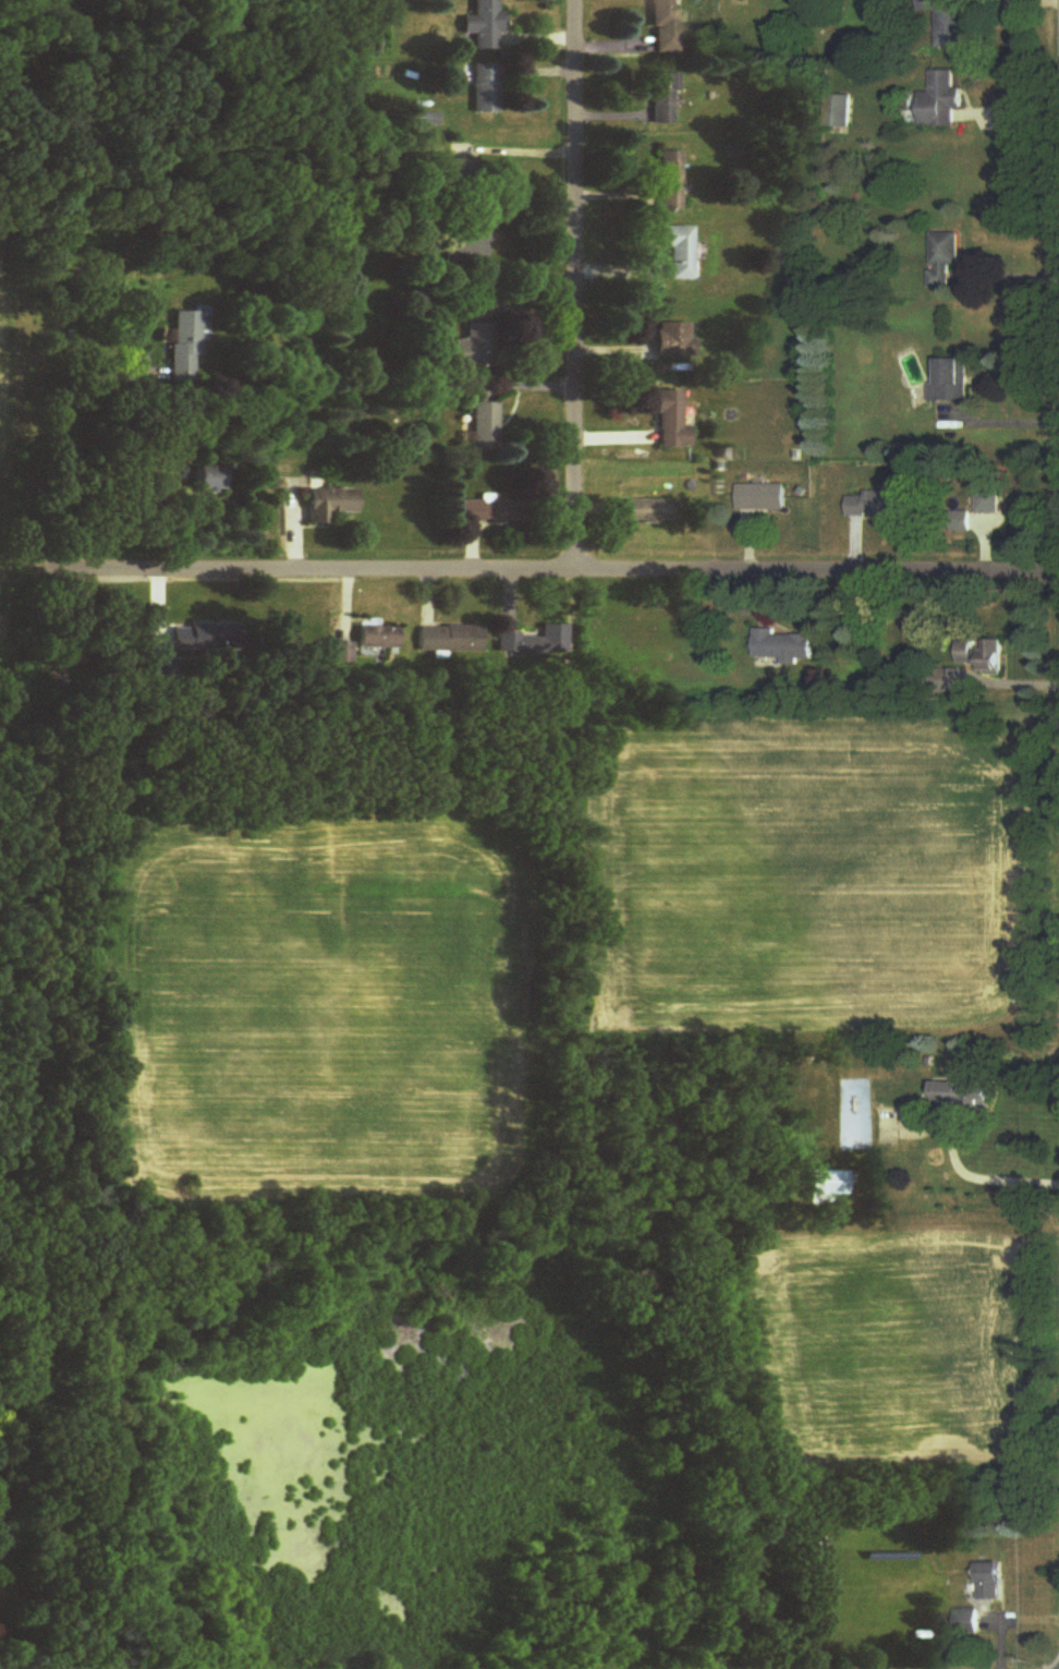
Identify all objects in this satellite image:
building: (949, 23)
building: (485, 24)
building: (669, 26)
building: (487, 88)
building: (664, 98)
building: (944, 100)
road: (1008, 102)
building: (840, 111)
building: (461, 172)
building: (671, 185)
building: (470, 243)
building: (679, 251)
building: (947, 259)
road: (1008, 273)
road: (572, 285)
building: (475, 335)
building: (674, 340)
building: (184, 344)
building: (953, 383)
road: (999, 416)
building: (672, 422)
road: (39, 425)
building: (485, 426)
road: (60, 435)
crop: (8, 457)
building: (211, 477)
building: (990, 497)
building: (764, 498)
building: (330, 504)
building: (880, 505)
building: (492, 511)
building: (649, 511)
building: (963, 522)
road: (546, 569)
building: (205, 638)
building: (378, 638)
building: (451, 639)
building: (535, 642)
building: (786, 646)
building: (986, 654)
building: (967, 1093)
road: (977, 1178)
building: (832, 1187)
building: (993, 1584)
building: (971, 1623)

